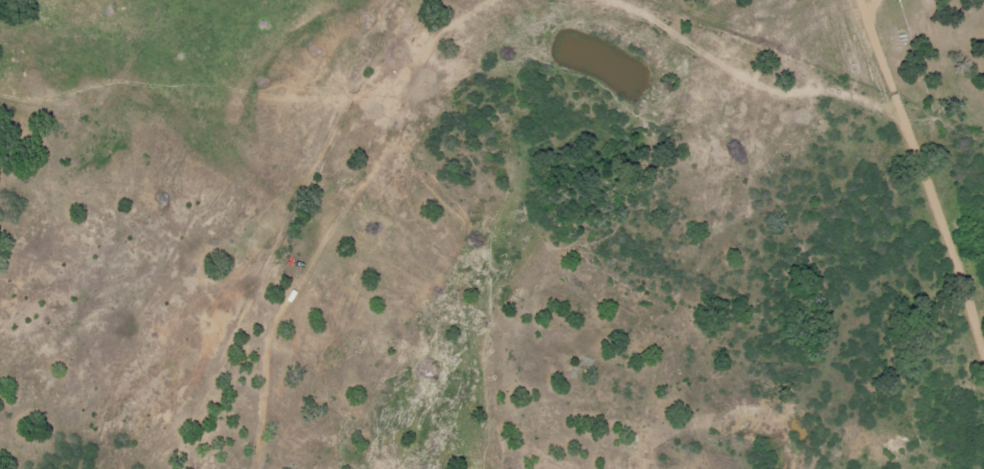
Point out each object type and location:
road: (936, 162)

